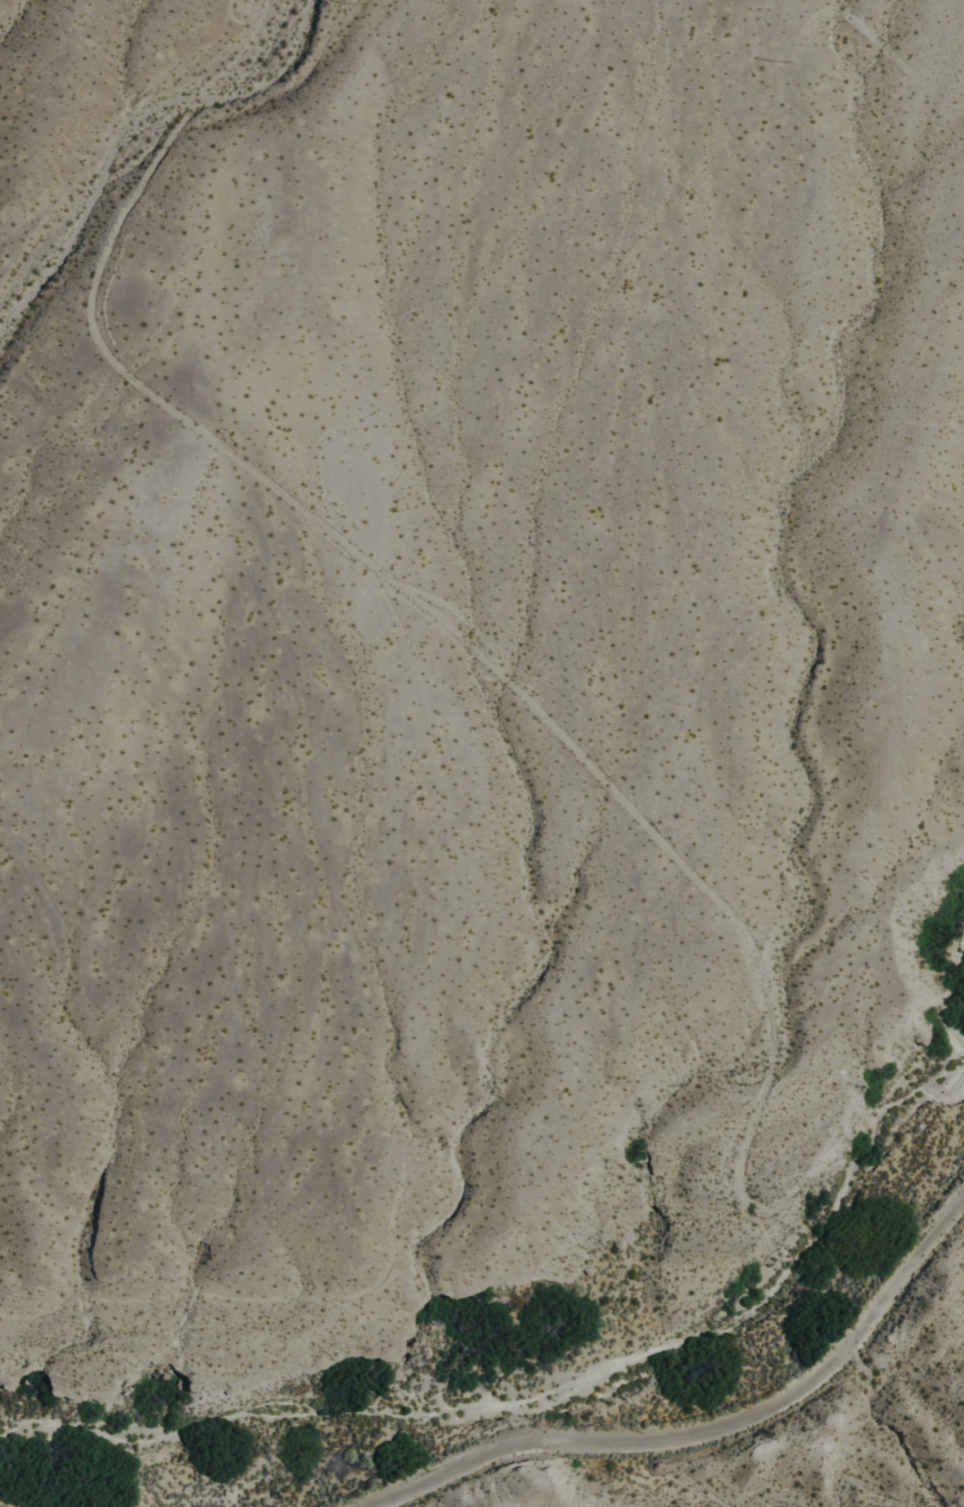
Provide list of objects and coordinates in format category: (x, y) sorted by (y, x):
road: (704, 1429)

